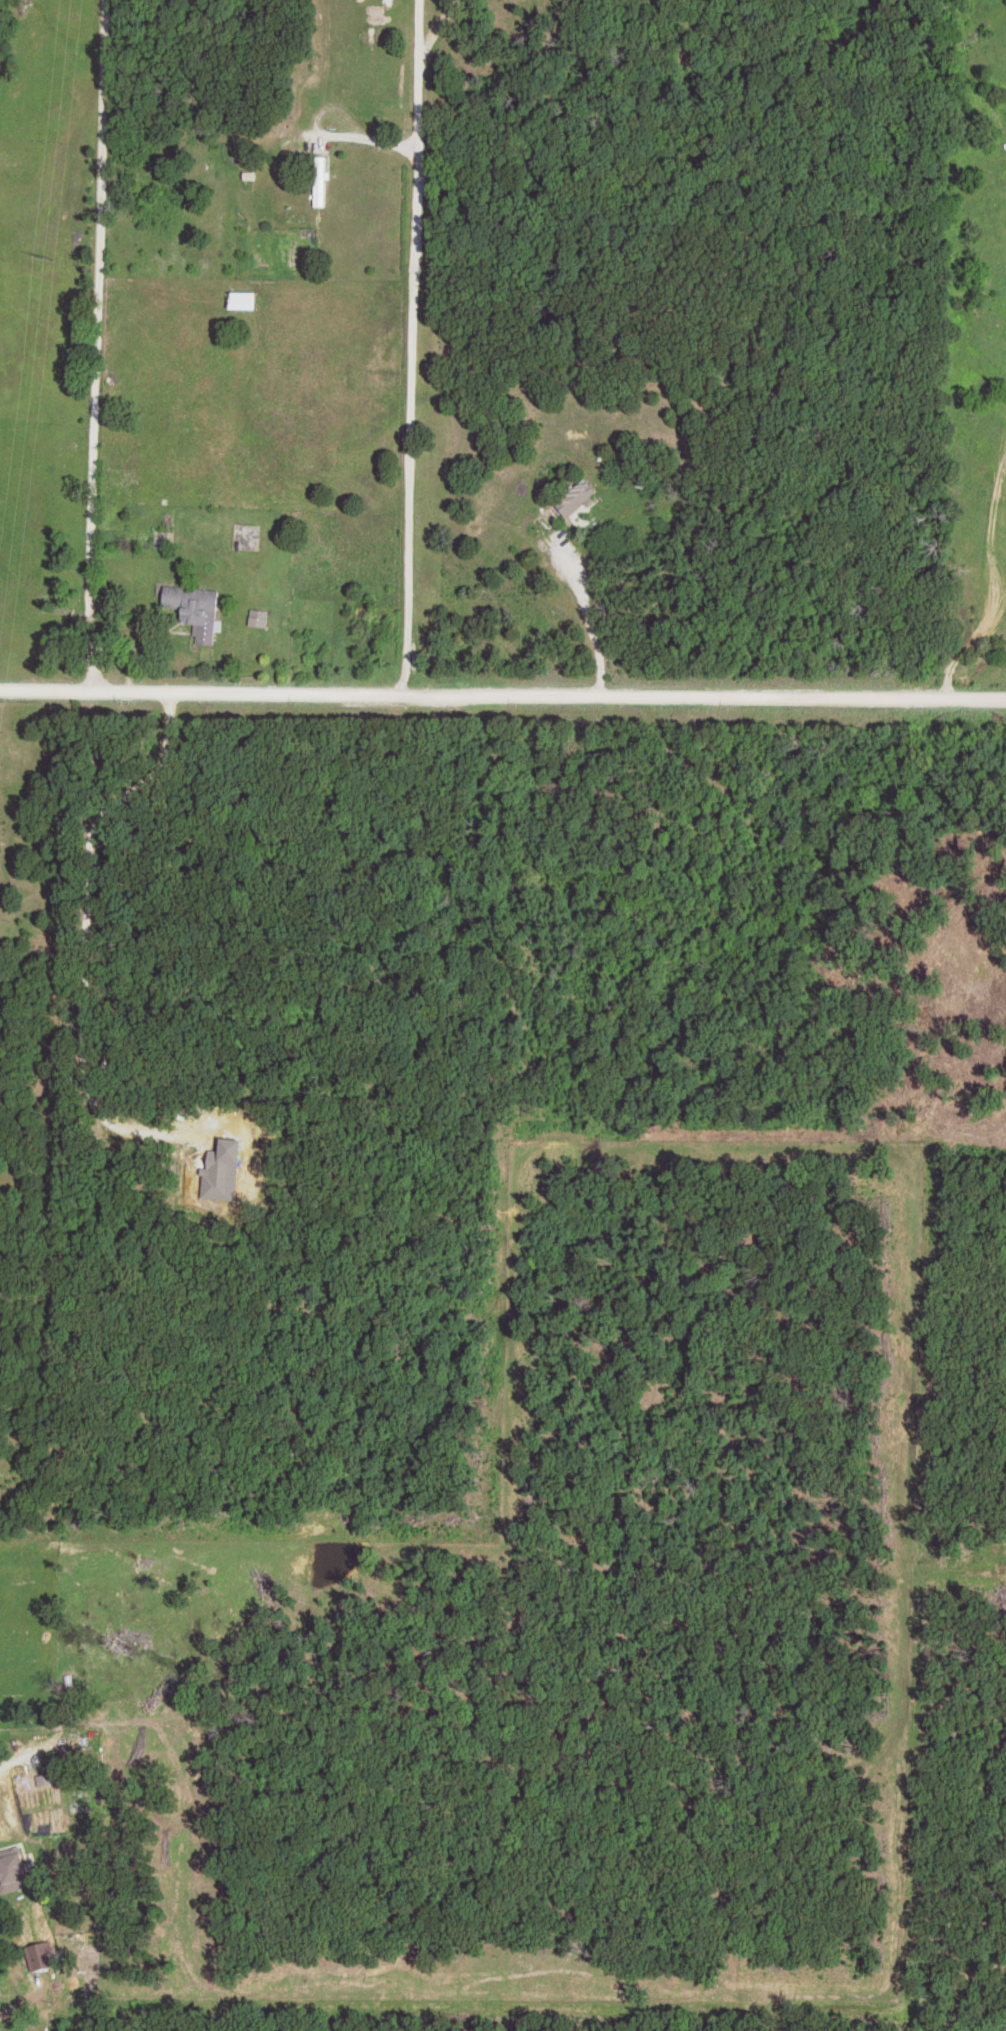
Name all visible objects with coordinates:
building: (321, 181)
power tower: (43, 260)
building: (242, 300)
road: (409, 348)
building: (575, 498)
building: (195, 609)
road: (502, 697)
building: (13, 1871)

